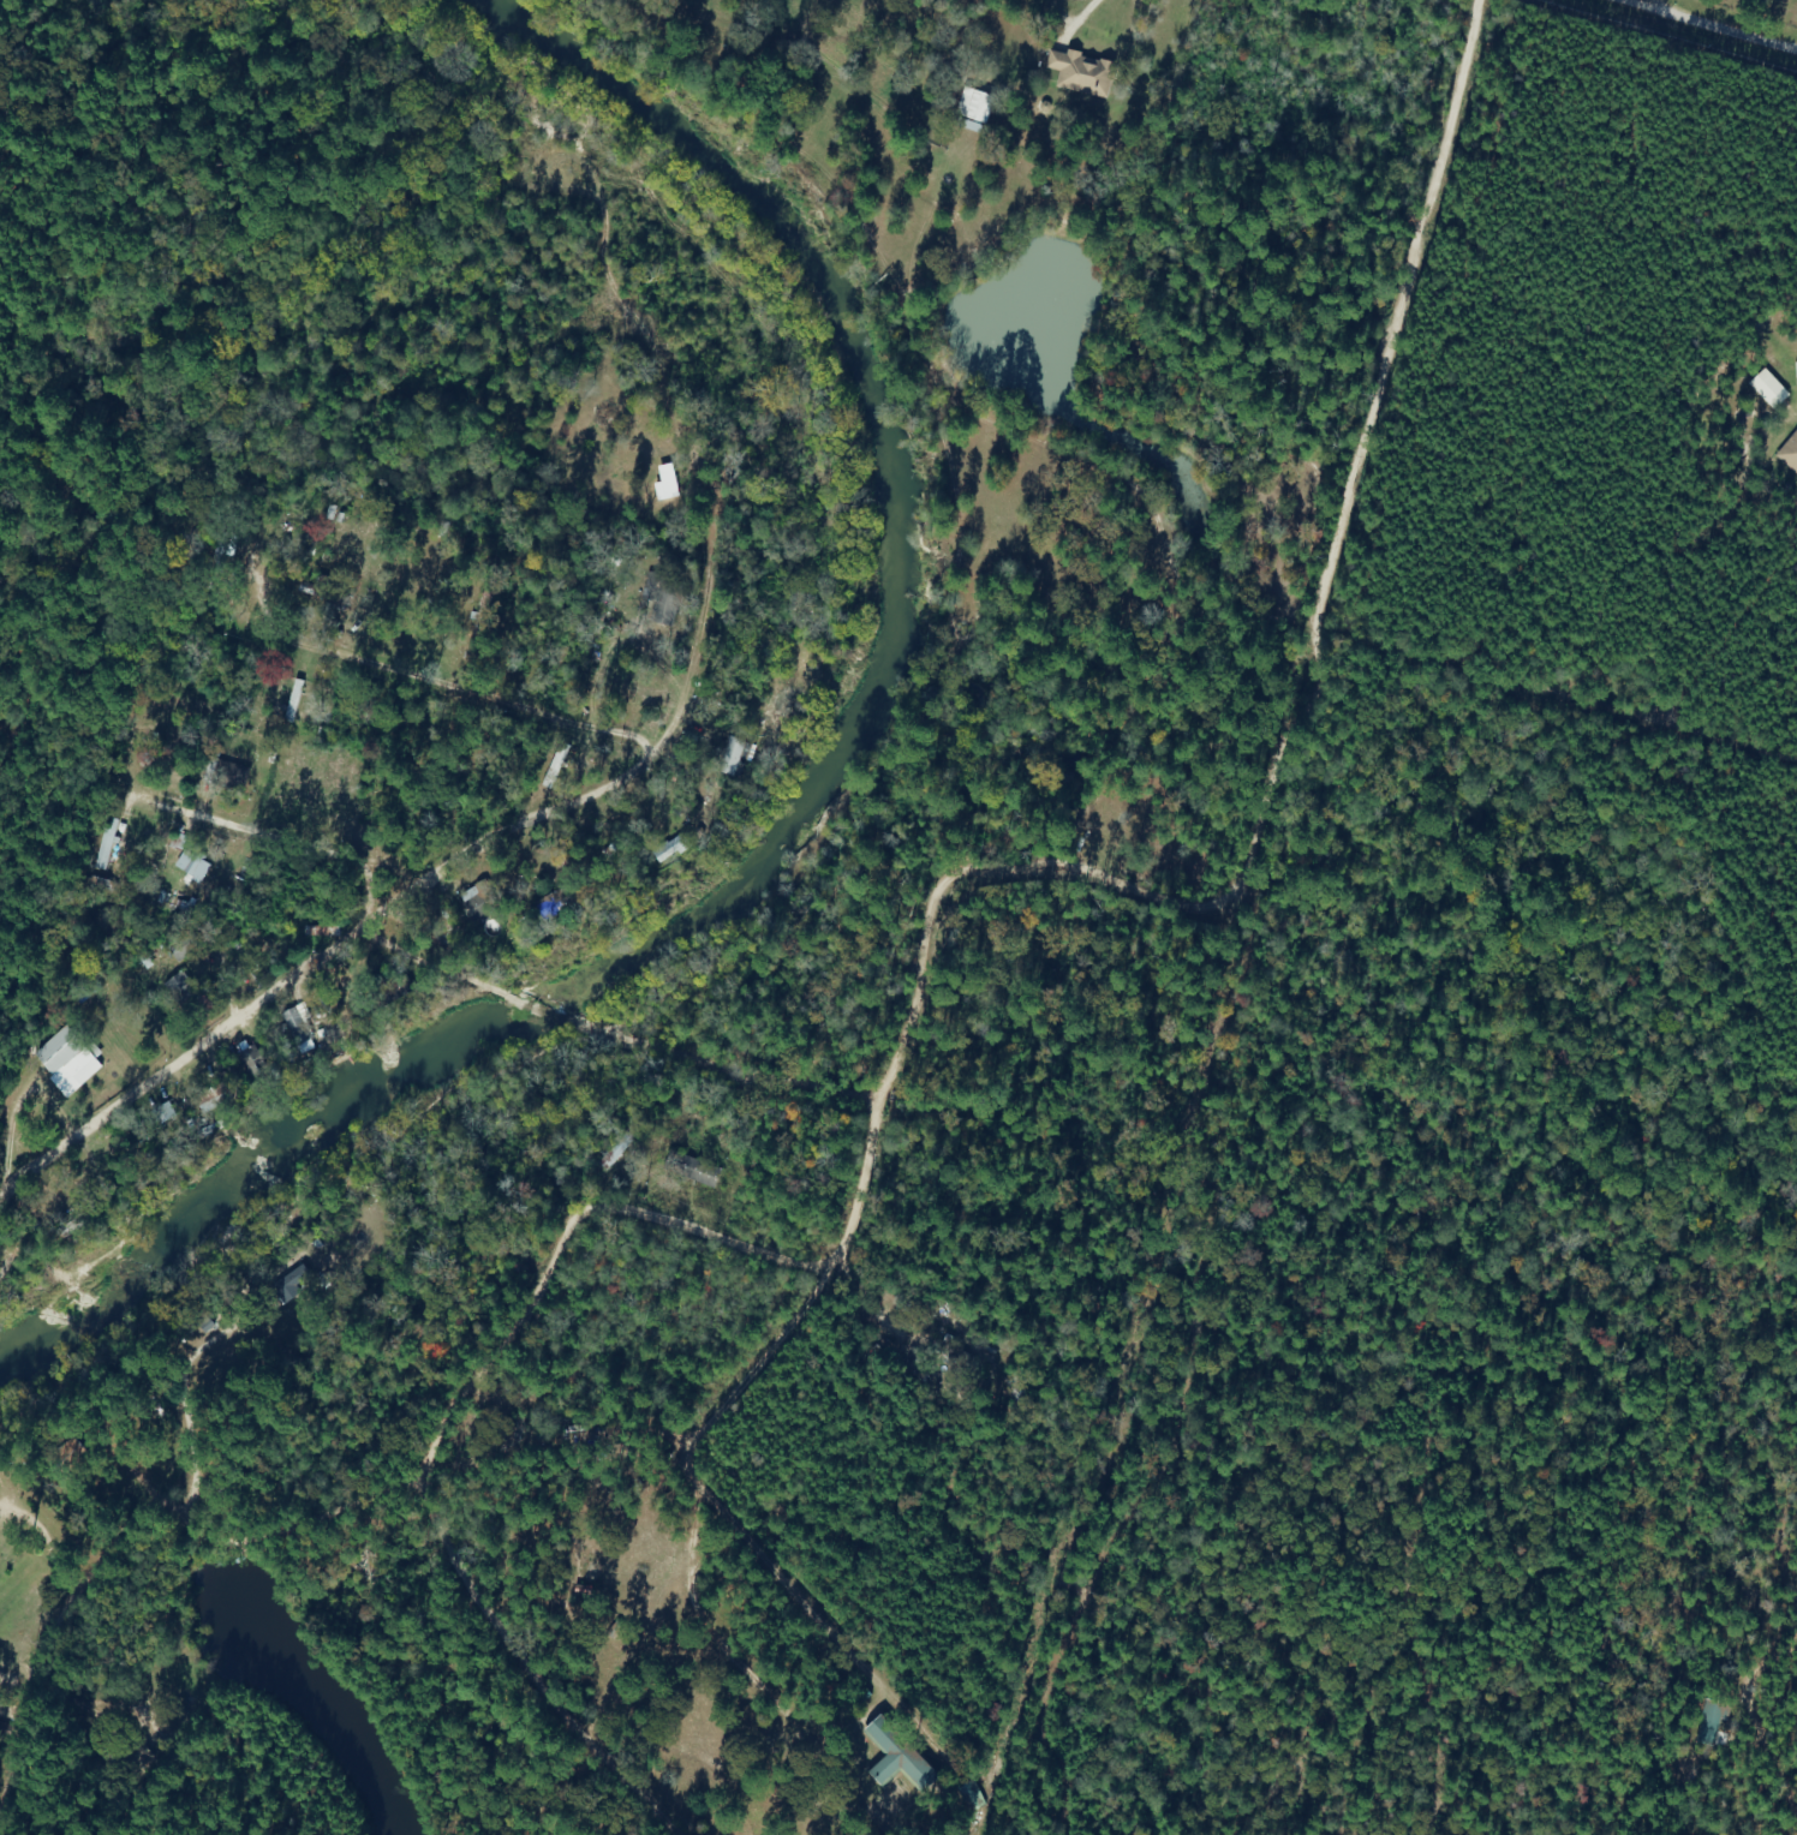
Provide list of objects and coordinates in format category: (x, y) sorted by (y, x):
road: (1711, 22)
building: (972, 104)
building: (1796, 369)
road: (1385, 411)
building: (638, 424)
building: (216, 554)
road: (520, 554)
building: (662, 594)
building: (575, 665)
building: (293, 700)
building: (728, 754)
building: (555, 764)
building: (226, 773)
road: (972, 838)
building: (668, 848)
building: (191, 865)
road: (310, 875)
road: (589, 886)
building: (560, 899)
building: (474, 902)
building: (446, 927)
building: (183, 945)
building: (184, 991)
building: (330, 1004)
building: (298, 1023)
road: (644, 1046)
building: (65, 1056)
building: (251, 1056)
building: (208, 1098)
building: (162, 1112)
building: (610, 1153)
road: (877, 1167)
building: (689, 1168)
building: (941, 1320)
building: (911, 1359)
building: (509, 1434)
road: (432, 1453)
road: (585, 1672)
road: (1762, 1720)
road: (7, 1722)
building: (894, 1755)
building: (969, 1795)

